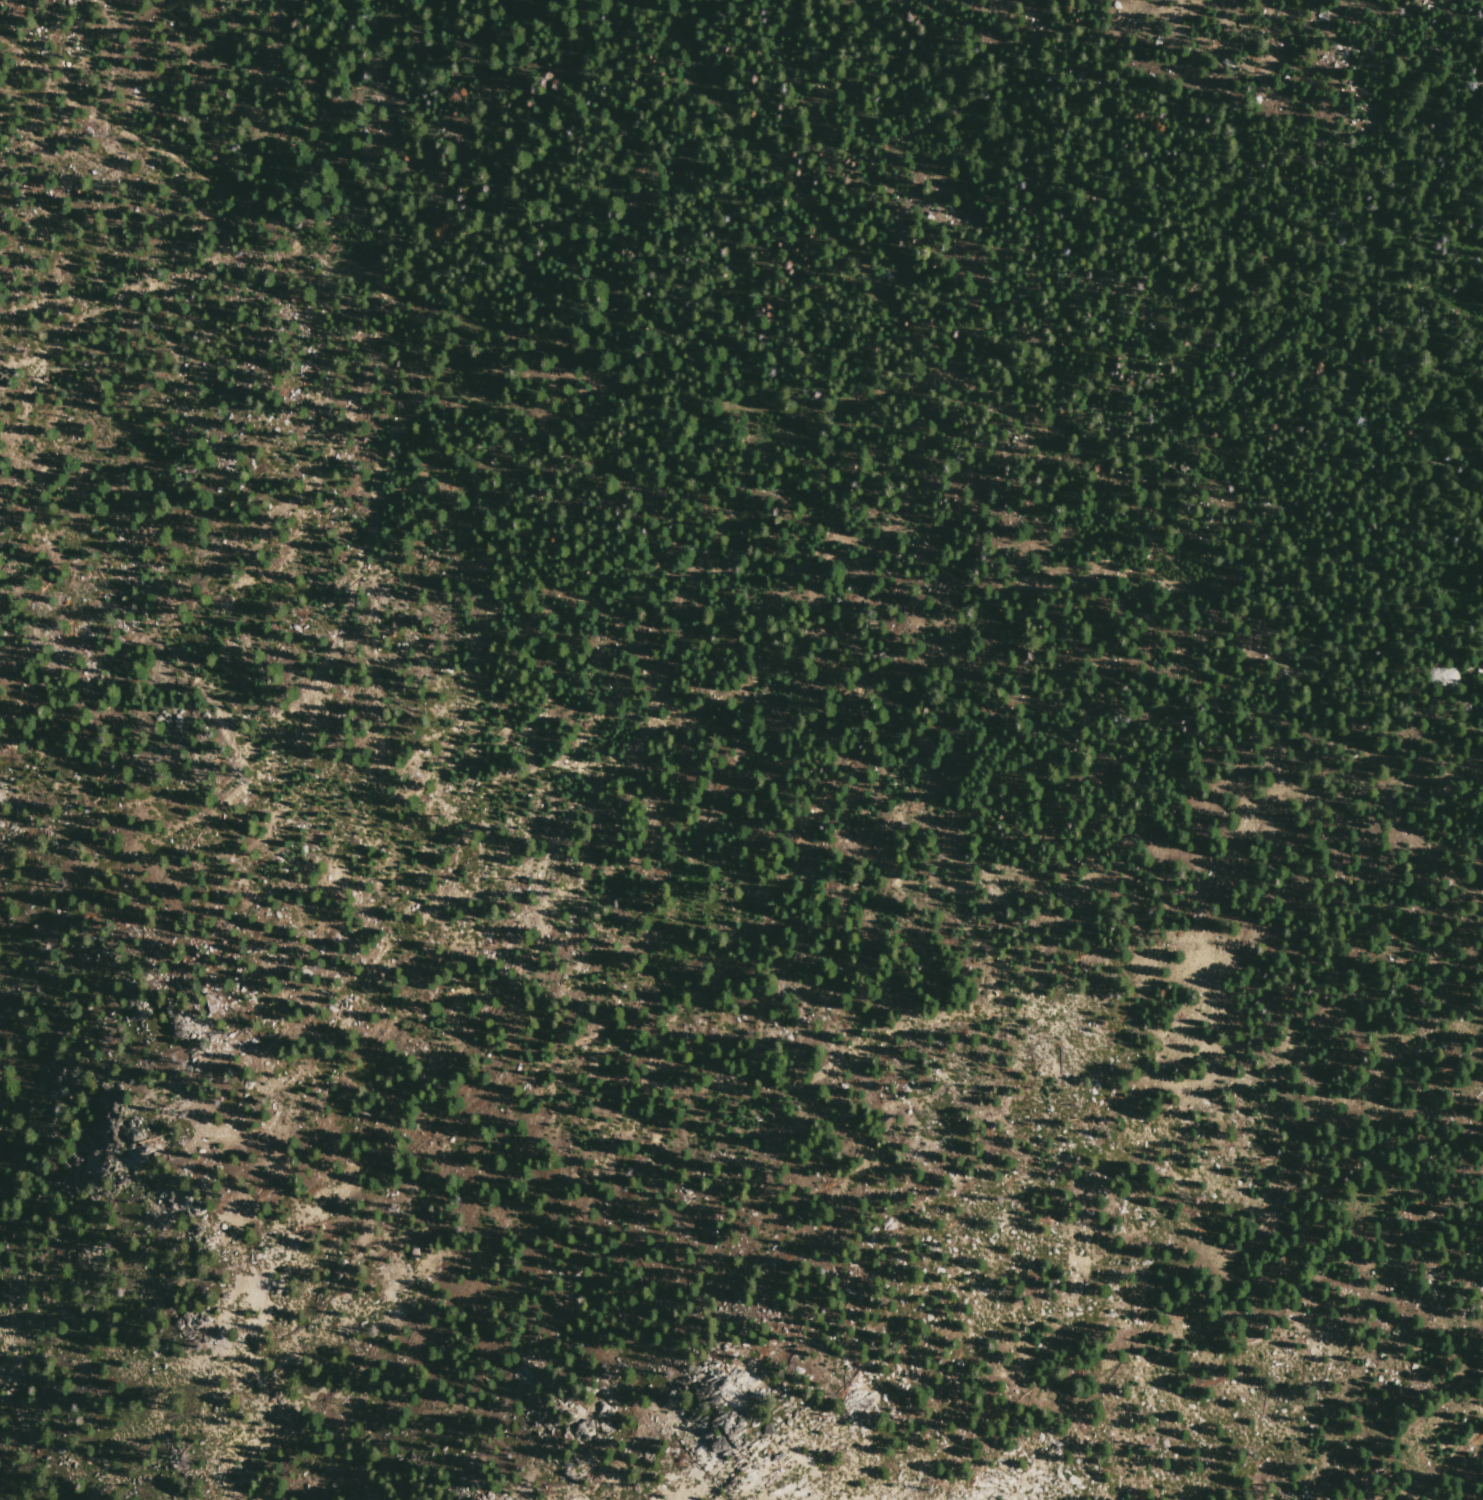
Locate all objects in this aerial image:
road: (451, 301)
road: (1073, 447)

